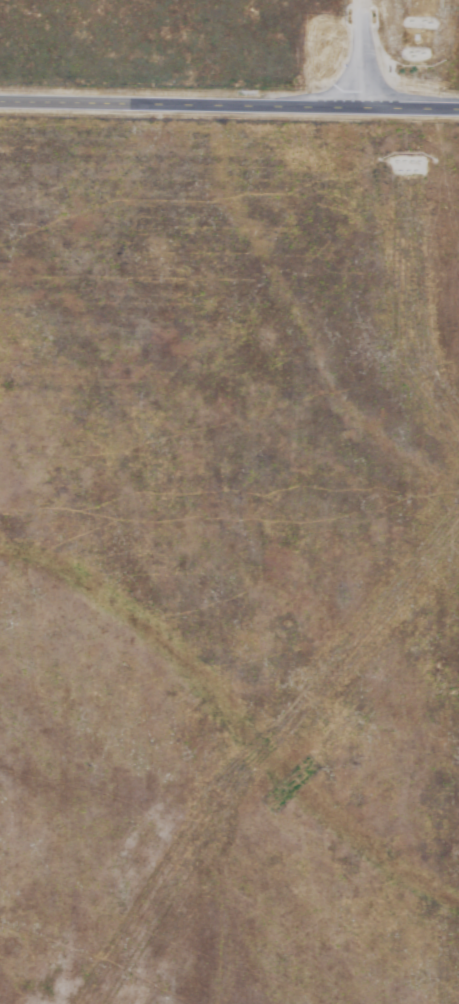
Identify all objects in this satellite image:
solar farm: (452, 50)
road: (361, 51)
road: (229, 103)
solar farm: (229, 563)

